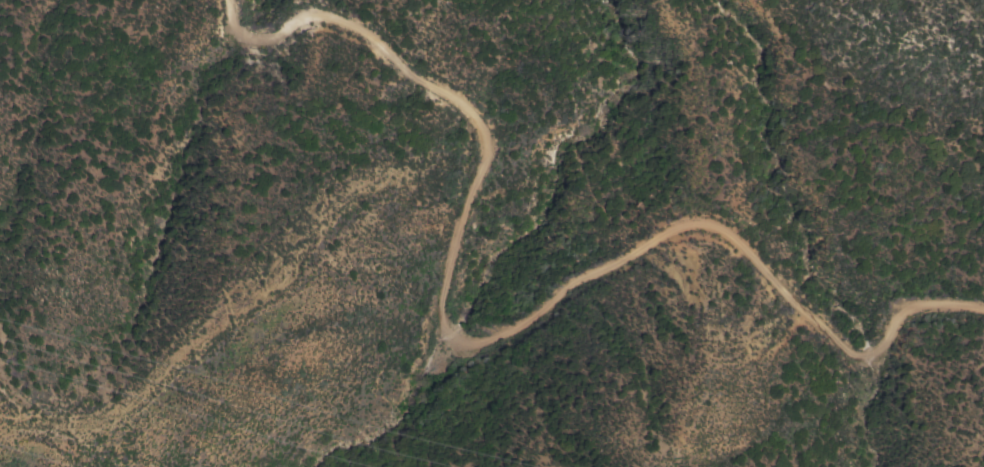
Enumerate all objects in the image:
road: (482, 340)

